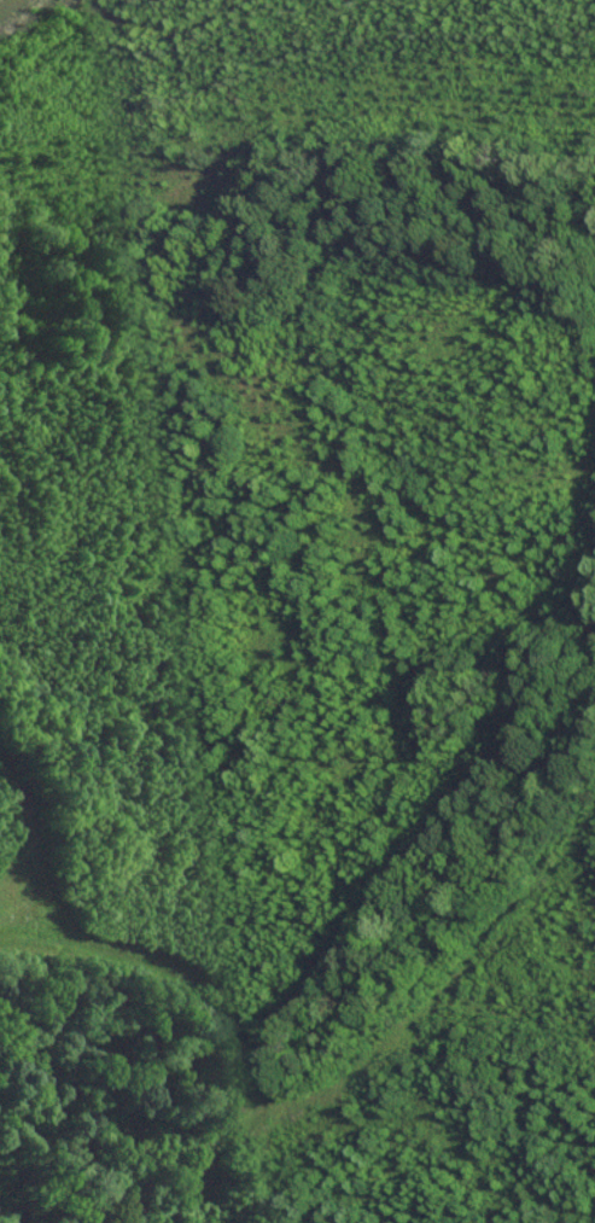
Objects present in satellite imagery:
road: (221, 1147)

